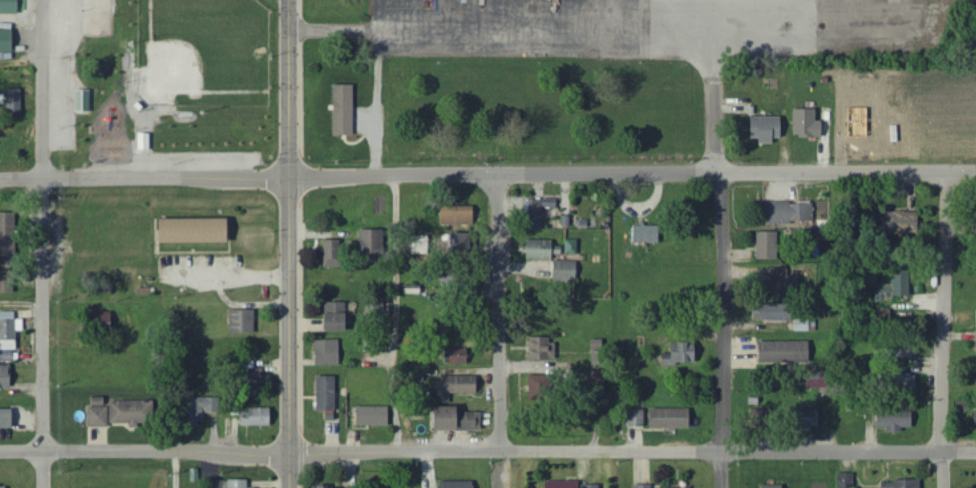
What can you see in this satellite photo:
building: (10, 6)
road: (569, 26)
building: (7, 41)
park: (201, 52)
road: (21, 61)
park: (163, 85)
building: (16, 99)
building: (84, 100)
road: (377, 100)
building: (345, 110)
building: (809, 123)
building: (767, 129)
road: (487, 174)
building: (536, 213)
building: (790, 213)
building: (460, 216)
building: (903, 223)
building: (199, 230)
building: (8, 232)
building: (647, 234)
building: (374, 242)
road: (42, 244)
road: (288, 244)
building: (769, 245)
building: (550, 249)
building: (335, 253)
building: (566, 271)
building: (785, 280)
building: (8, 281)
building: (896, 286)
road: (21, 305)
building: (376, 305)
building: (774, 312)
road: (942, 312)
road: (396, 313)
building: (338, 317)
building: (244, 321)
building: (806, 325)
building: (10, 330)
road: (721, 330)
road: (498, 331)
building: (544, 348)
building: (329, 352)
building: (688, 352)
building: (786, 352)
building: (462, 356)
building: (600, 359)
building: (6, 376)
building: (904, 381)
building: (459, 387)
building: (542, 388)
building: (328, 394)
building: (204, 408)
building: (132, 412)
building: (975, 414)
building: (100, 416)
building: (374, 416)
building: (258, 417)
building: (8, 418)
building: (637, 418)
building: (672, 418)
building: (457, 419)
building: (896, 420)
road: (470, 451)
road: (942, 452)
road: (960, 452)
road: (175, 469)
road: (944, 470)
building: (846, 480)
building: (240, 484)
building: (564, 484)
building: (903, 484)
building: (458, 485)
building: (324, 486)
building: (593, 486)
building: (643, 486)
building: (775, 486)
building: (4, 487)
building: (348, 487)
building: (692, 487)

